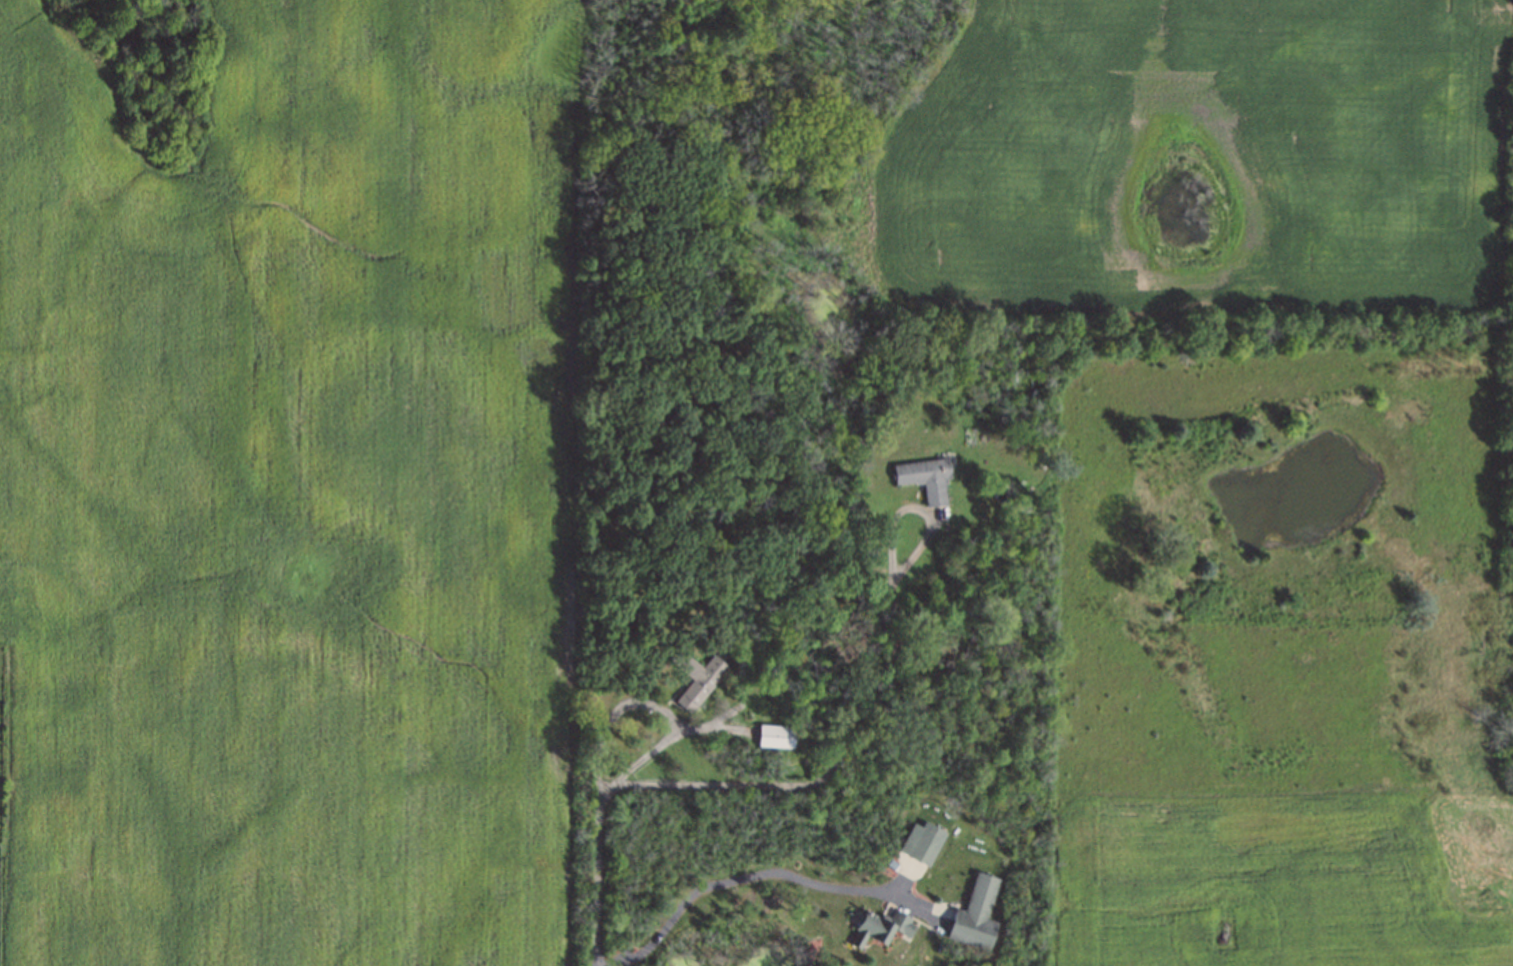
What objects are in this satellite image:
crop: (1190, 157)
building: (925, 477)
crop: (284, 489)
building: (696, 679)
road: (654, 700)
crop: (1264, 712)
building: (777, 737)
road: (821, 769)
building: (922, 843)
road: (740, 877)
building: (976, 915)
building: (880, 928)
road: (596, 955)

